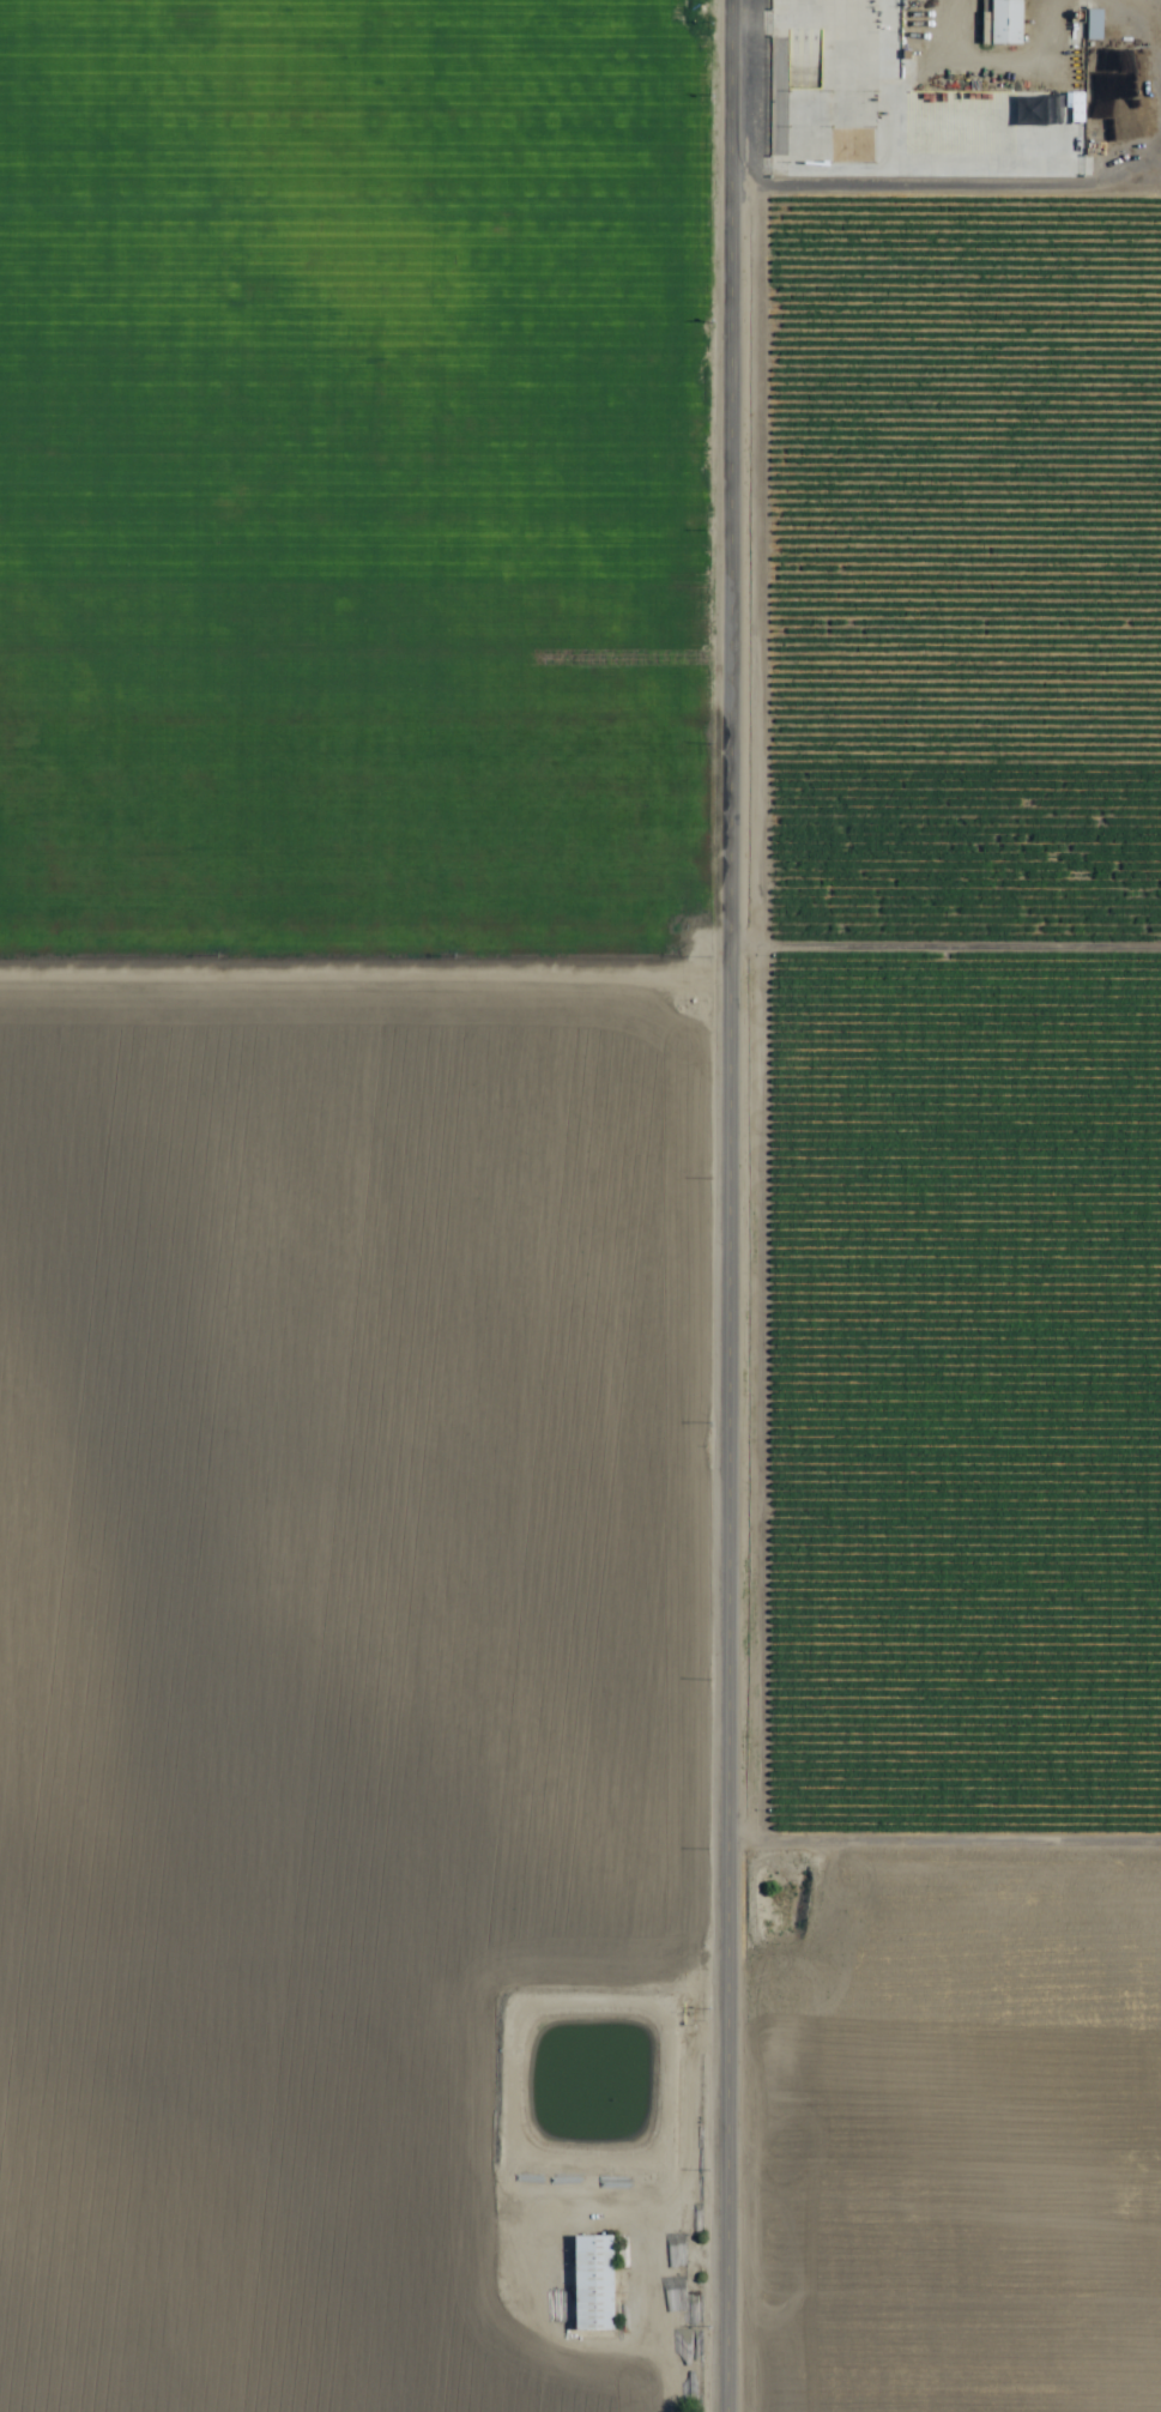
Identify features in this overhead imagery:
building: (1005, 22)
road: (580, 968)
crop: (580, 1205)
road: (734, 1205)
wastewater plant: (582, 2077)
building: (592, 2283)

